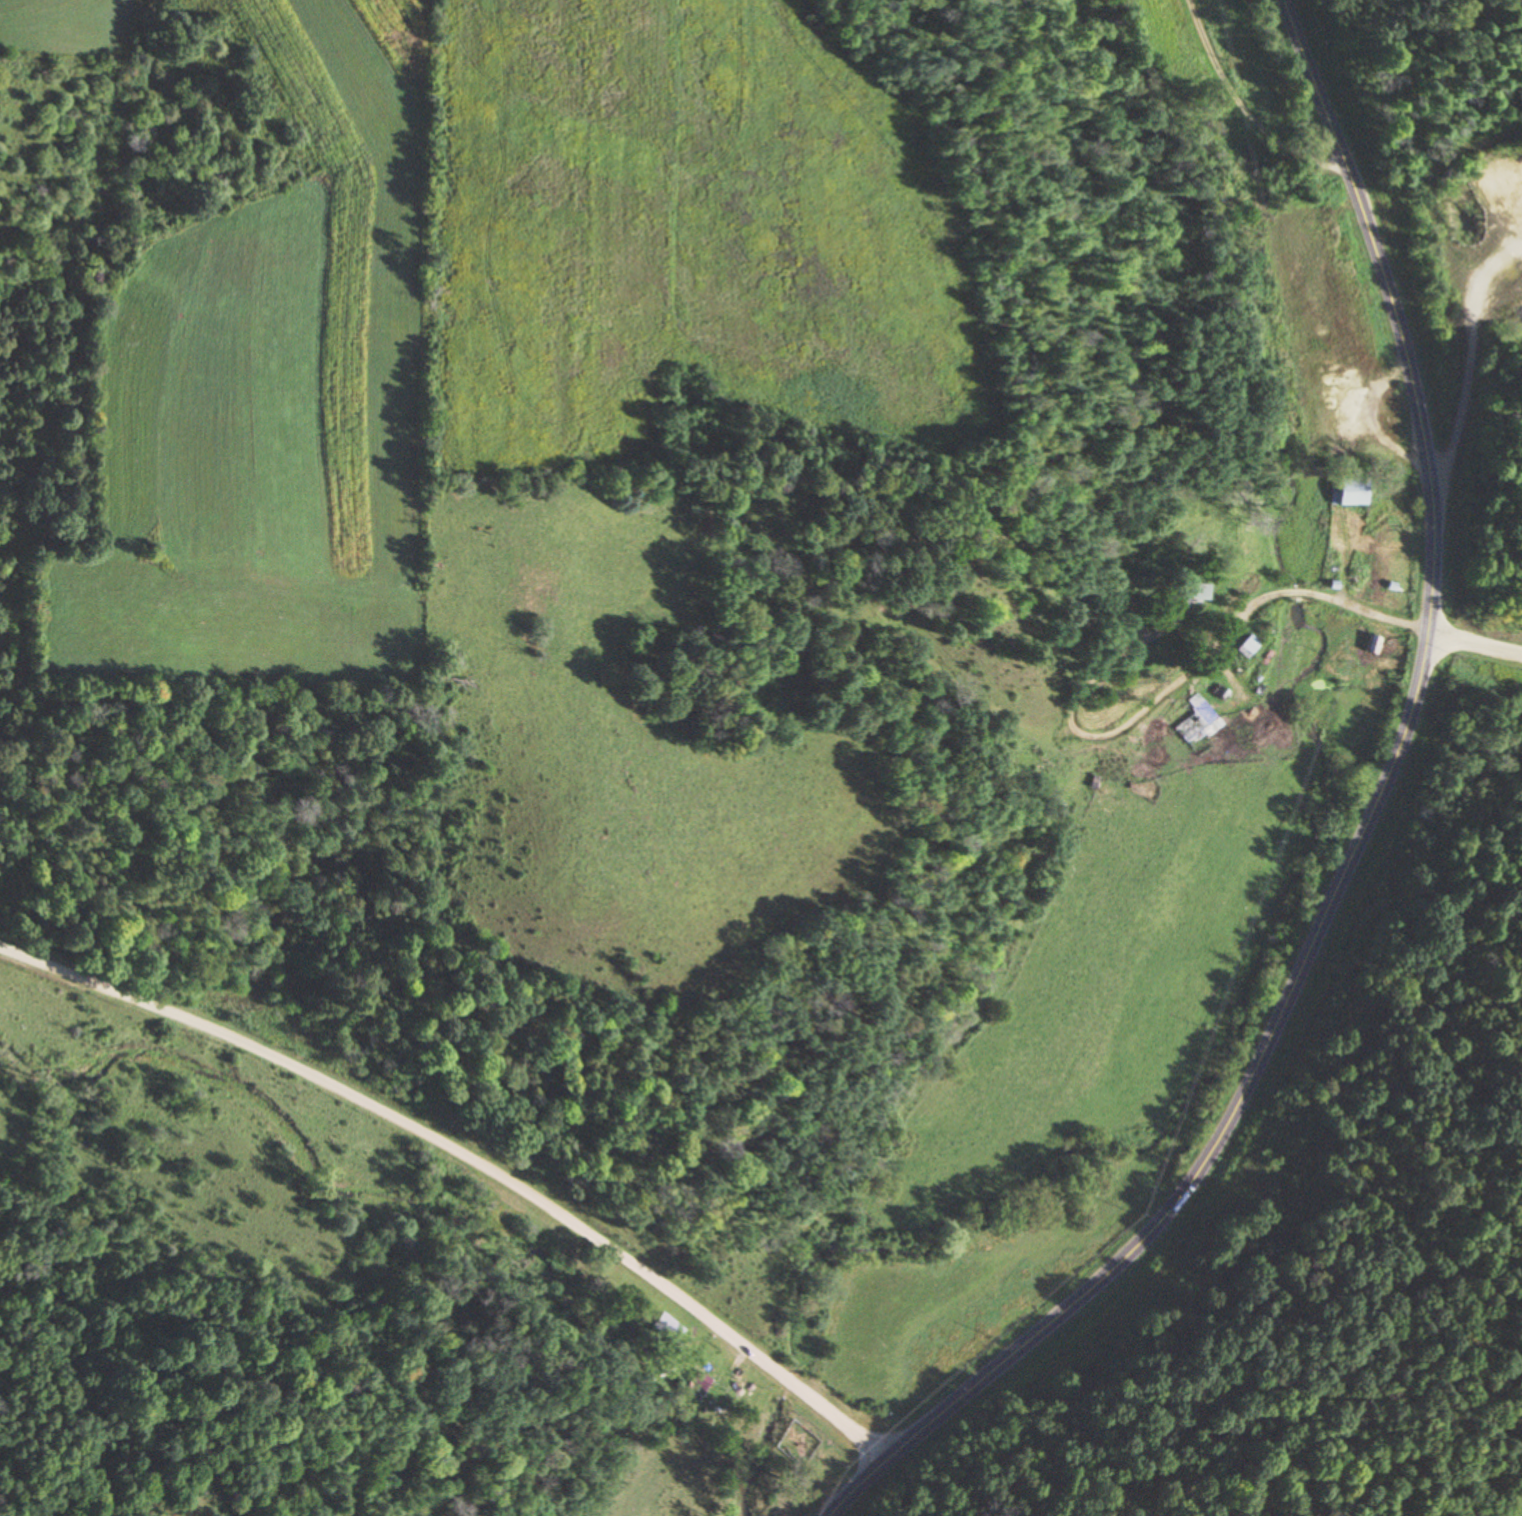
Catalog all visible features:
road: (1250, 108)
quarry: (1457, 291)
building: (1346, 493)
road: (1294, 587)
building: (1178, 597)
road: (1363, 604)
road: (1470, 647)
building: (1243, 648)
road: (1134, 712)
building: (1195, 722)
road: (1351, 837)
road: (466, 1156)
building: (664, 1328)

